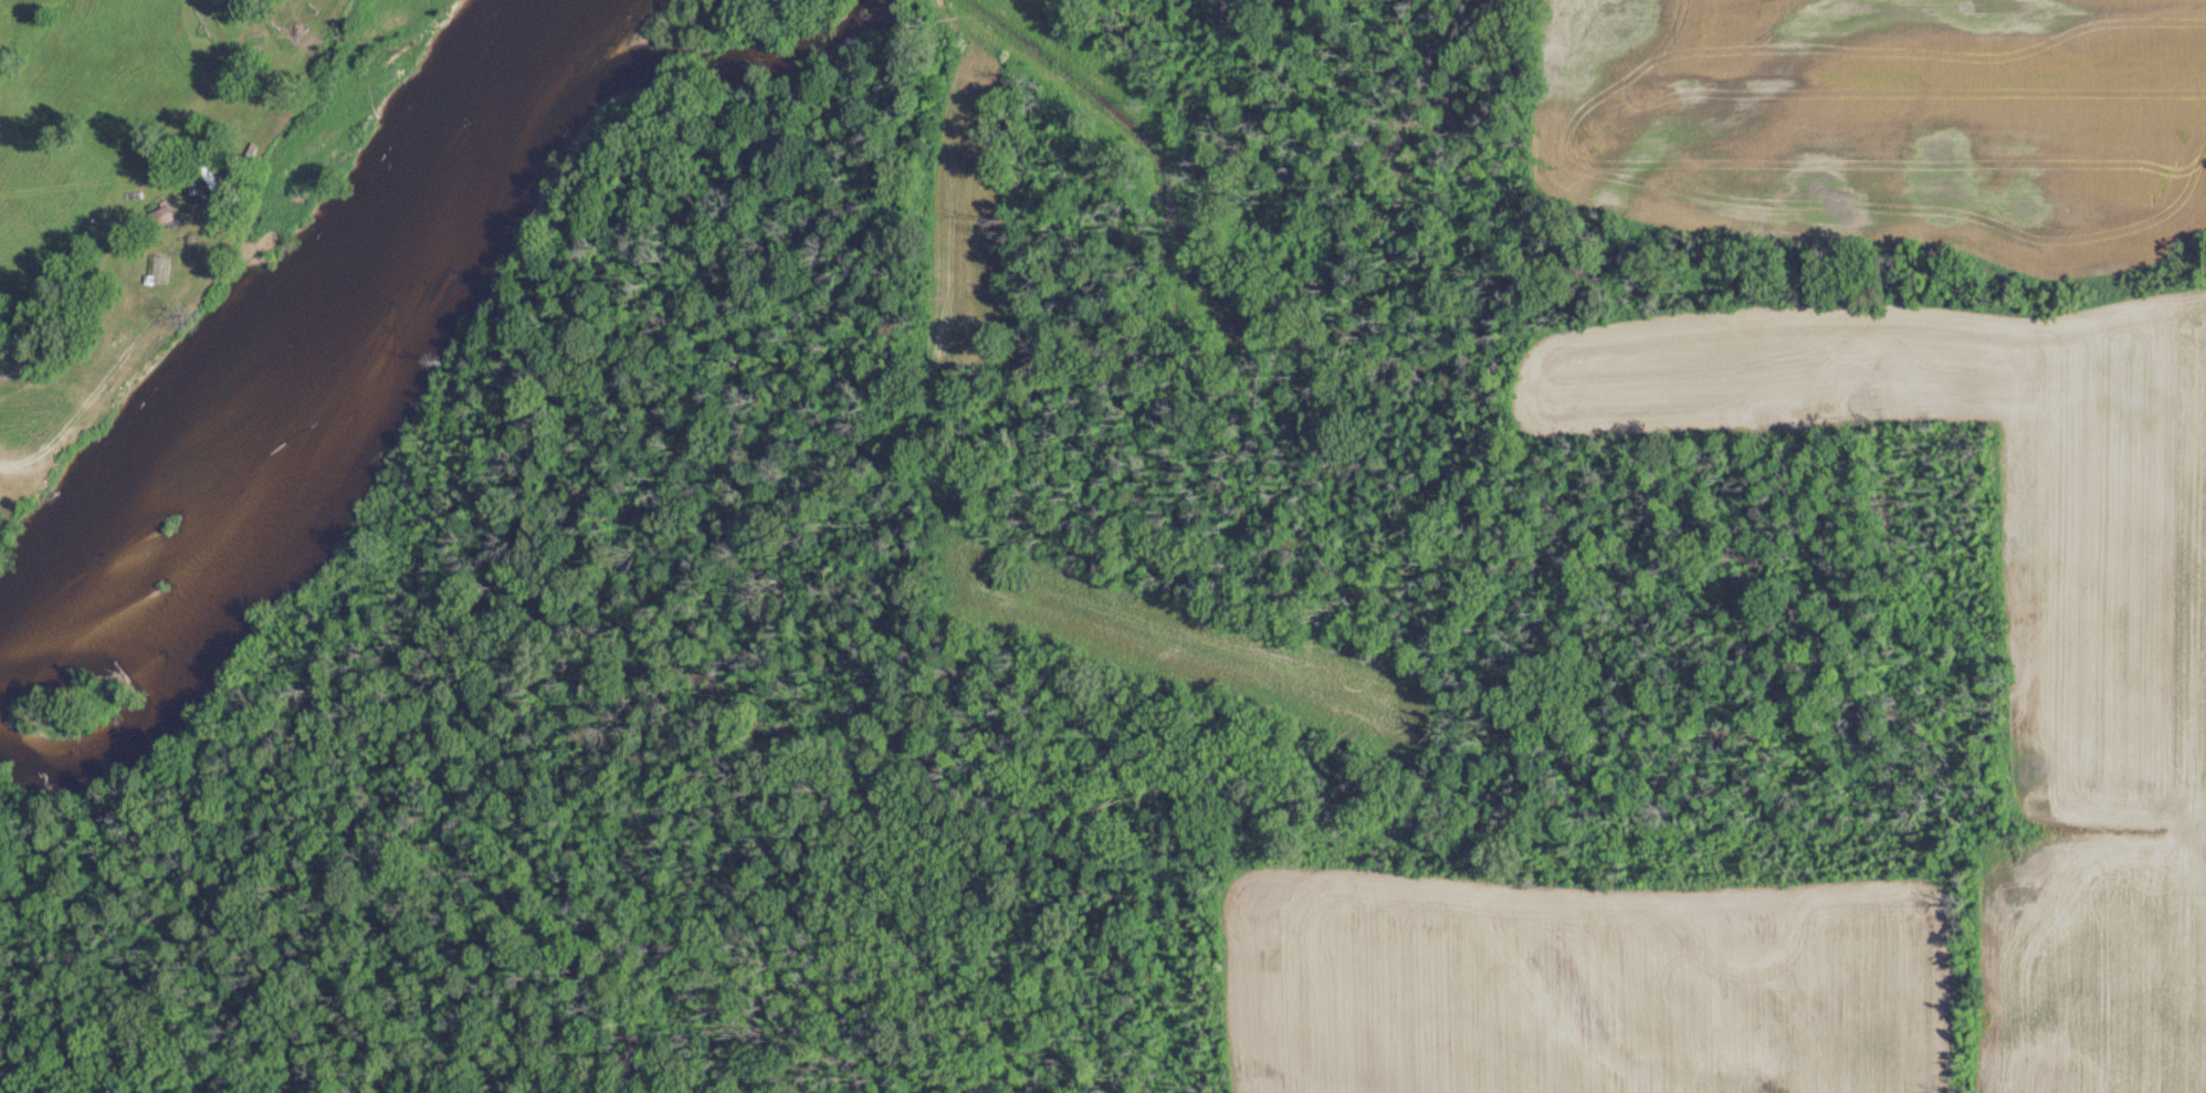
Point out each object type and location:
building: (165, 217)
building: (168, 271)
river: (342, 360)

